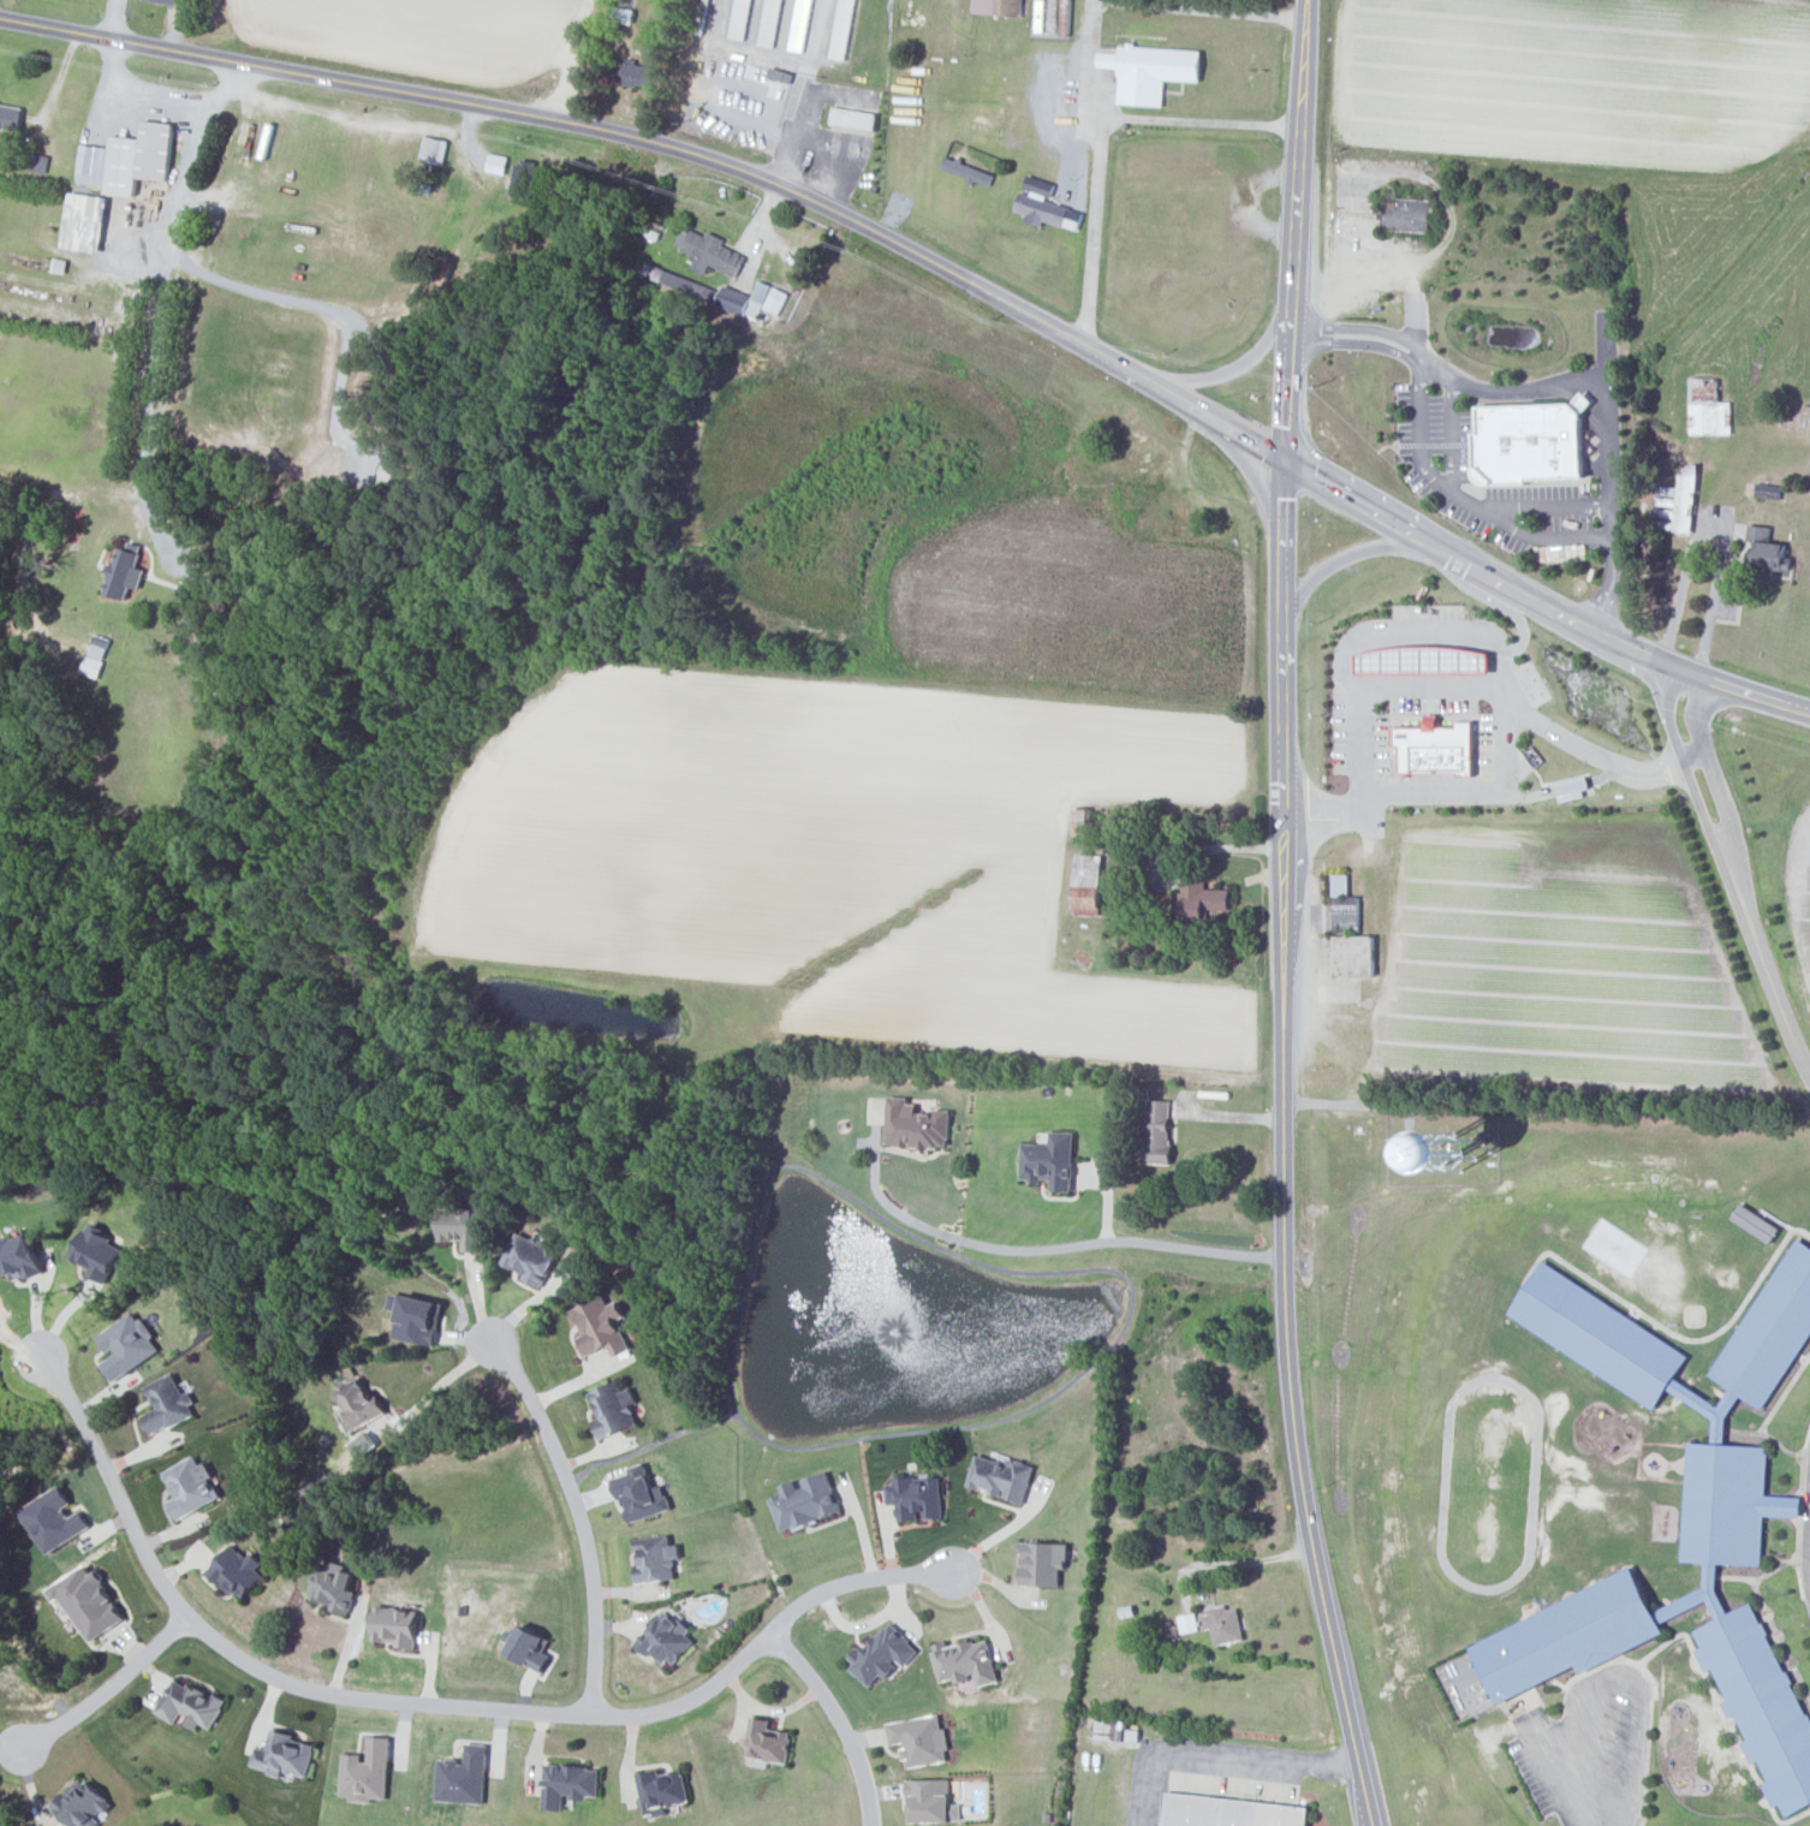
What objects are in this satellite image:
building: (166, 1)
building: (998, 6)
road: (118, 19)
building: (740, 19)
building: (770, 23)
building: (802, 25)
building: (843, 29)
road: (745, 47)
road: (574, 58)
road: (1094, 67)
building: (1149, 71)
building: (633, 72)
road: (803, 94)
road: (160, 96)
building: (10, 117)
building: (853, 118)
road: (1199, 121)
road: (673, 148)
road: (844, 157)
building: (127, 159)
building: (967, 171)
road: (186, 173)
building: (1038, 185)
building: (1042, 210)
building: (1409, 214)
building: (83, 221)
road: (1296, 228)
building: (710, 252)
building: (754, 299)
road: (1244, 362)
road: (1437, 368)
road: (350, 380)
road: (151, 385)
building: (1709, 409)
road: (1451, 433)
building: (1532, 442)
traffic signals: (1285, 459)
road: (1246, 470)
road: (1609, 472)
road: (1436, 481)
building: (1686, 498)
road: (1548, 504)
road: (1715, 528)
building: (1768, 549)
road: (1362, 552)
building: (124, 573)
road: (1538, 602)
road: (1522, 620)
road: (1446, 631)
building: (1424, 661)
road: (1428, 685)
building: (1439, 748)
road: (1583, 748)
road: (1686, 773)
road: (1715, 779)
road: (1565, 787)
building: (1574, 787)
road: (1214, 846)
building: (1088, 885)
building: (1341, 886)
building: (1201, 899)
building: (1356, 957)
road: (1769, 976)
road: (1357, 1104)
road: (1230, 1116)
building: (916, 1124)
building: (1159, 1131)
road: (1284, 1146)
building: (1050, 1160)
building: (1470, 1165)
building: (1756, 1221)
building: (463, 1225)
road: (941, 1232)
road: (1191, 1244)
building: (96, 1250)
building: (18, 1255)
building: (532, 1255)
building: (418, 1318)
building: (601, 1325)
building: (126, 1344)
road: (442, 1379)
building: (359, 1402)
building: (167, 1403)
building: (614, 1408)
building: (1001, 1476)
building: (191, 1486)
building: (641, 1495)
building: (917, 1495)
building: (805, 1500)
road: (578, 1515)
building: (54, 1518)
road: (1004, 1531)
building: (1723, 1540)
building: (656, 1557)
building: (1043, 1562)
road: (1238, 1563)
building: (237, 1571)
road: (1809, 1582)
building: (333, 1586)
building: (89, 1601)
building: (1187, 1622)
building: (1222, 1624)
building: (395, 1625)
building: (667, 1638)
building: (530, 1646)
building: (883, 1653)
building: (966, 1661)
road: (1612, 1673)
road: (107, 1688)
road: (430, 1702)
building: (190, 1703)
road: (839, 1719)
building: (919, 1739)
building: (768, 1742)
road: (1221, 1751)
building: (284, 1754)
building: (367, 1771)
building: (463, 1777)
building: (570, 1783)
building: (663, 1790)
building: (931, 1801)
building: (82, 1803)
building: (1231, 1812)

